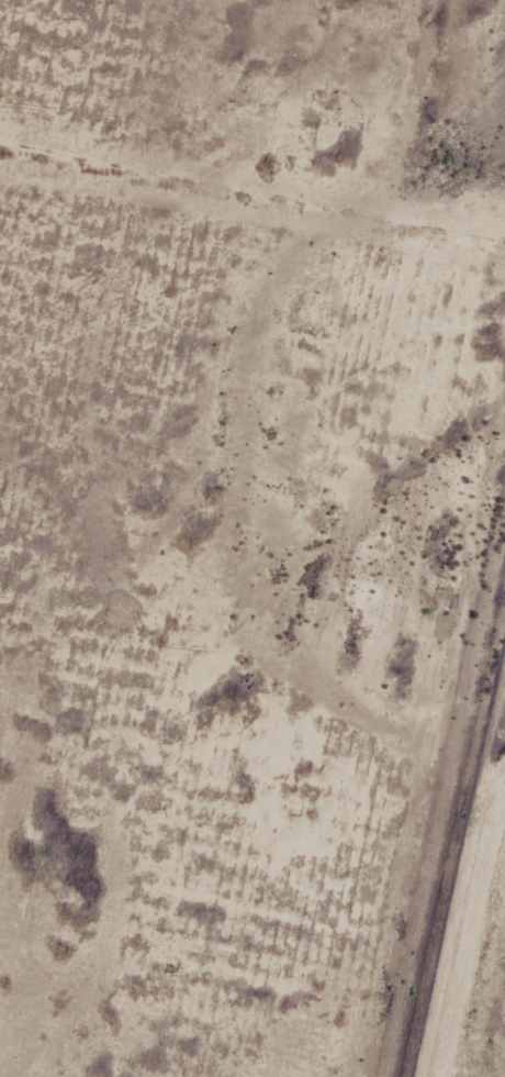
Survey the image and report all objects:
road: (462, 929)

